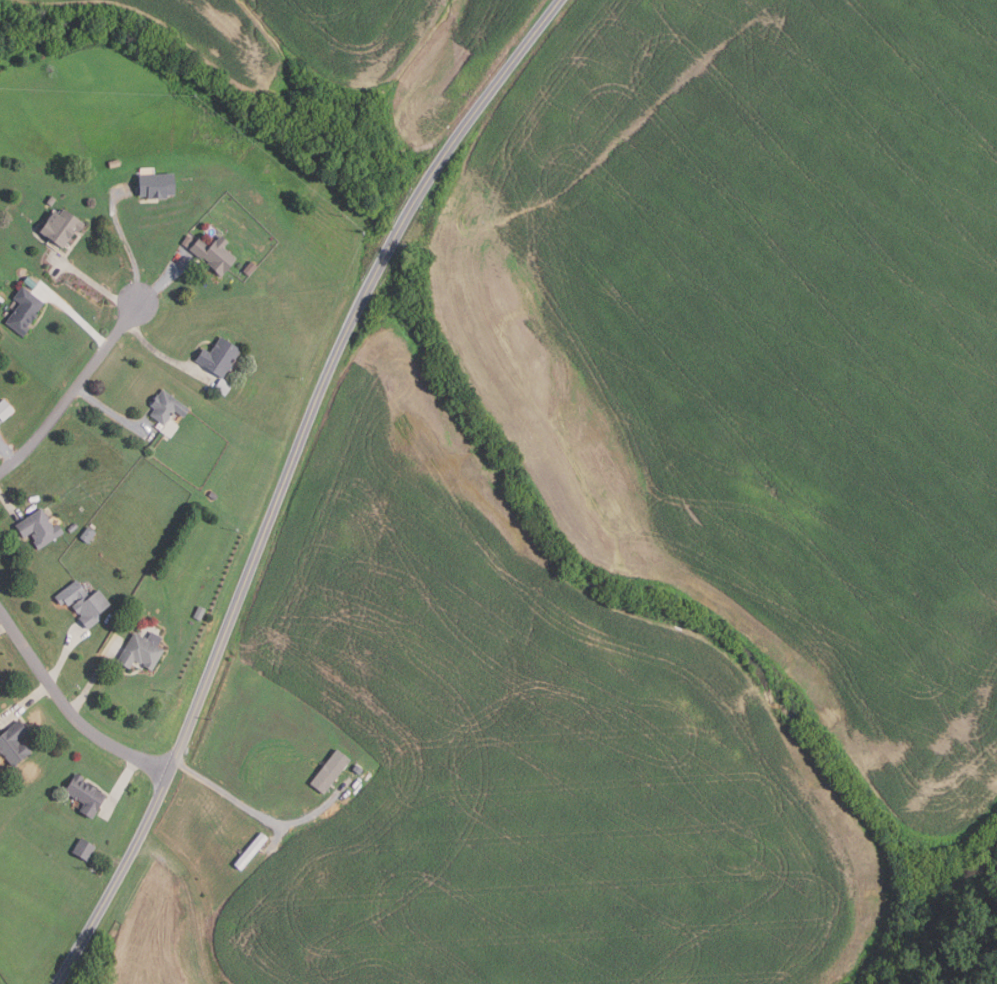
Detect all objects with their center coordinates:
building: (115, 163)
building: (158, 185)
building: (52, 200)
building: (62, 227)
building: (187, 240)
road: (129, 249)
building: (216, 254)
road: (162, 279)
building: (31, 283)
road: (93, 283)
building: (25, 311)
road: (78, 316)
road: (164, 356)
building: (220, 357)
building: (224, 387)
road: (74, 390)
building: (167, 407)
road: (109, 411)
road: (7, 452)
road: (288, 478)
building: (214, 495)
road: (8, 503)
building: (73, 528)
building: (40, 529)
building: (88, 535)
building: (85, 603)
building: (200, 612)
road: (4, 626)
building: (143, 650)
road: (65, 654)
road: (95, 675)
road: (26, 703)
road: (69, 710)
building: (14, 744)
building: (359, 769)
building: (331, 771)
road: (120, 785)
building: (86, 795)
road: (252, 812)
building: (84, 849)
building: (251, 851)
road: (190, 902)

